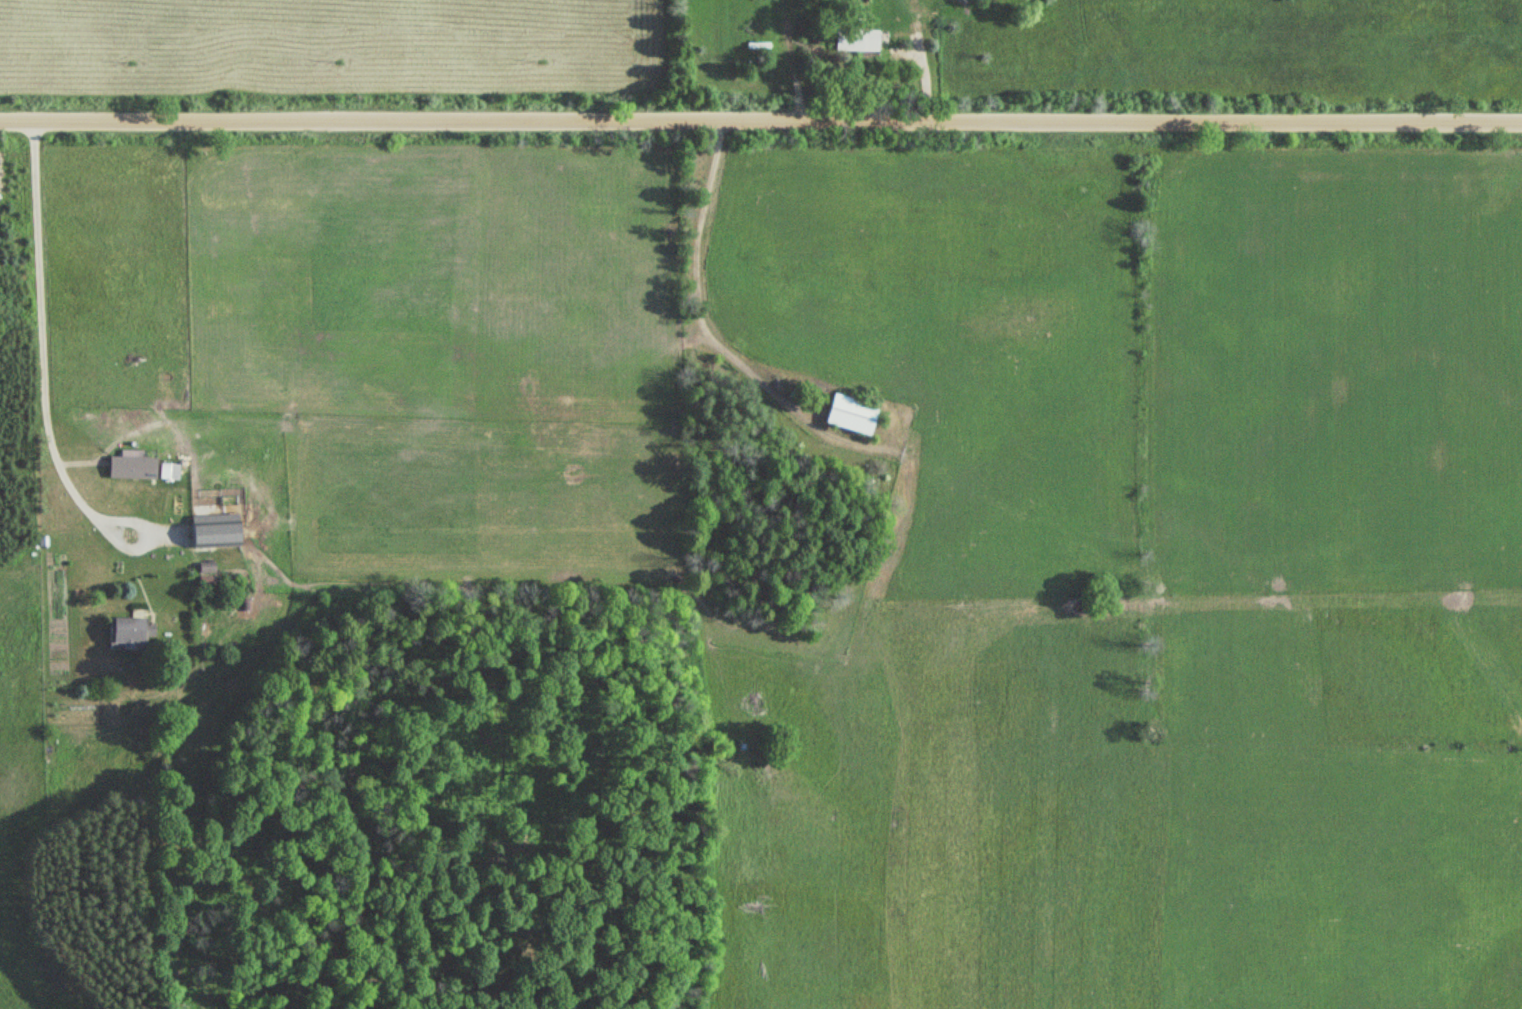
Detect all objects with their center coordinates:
road: (761, 133)
building: (848, 414)
building: (129, 466)
building: (210, 530)
building: (127, 632)

